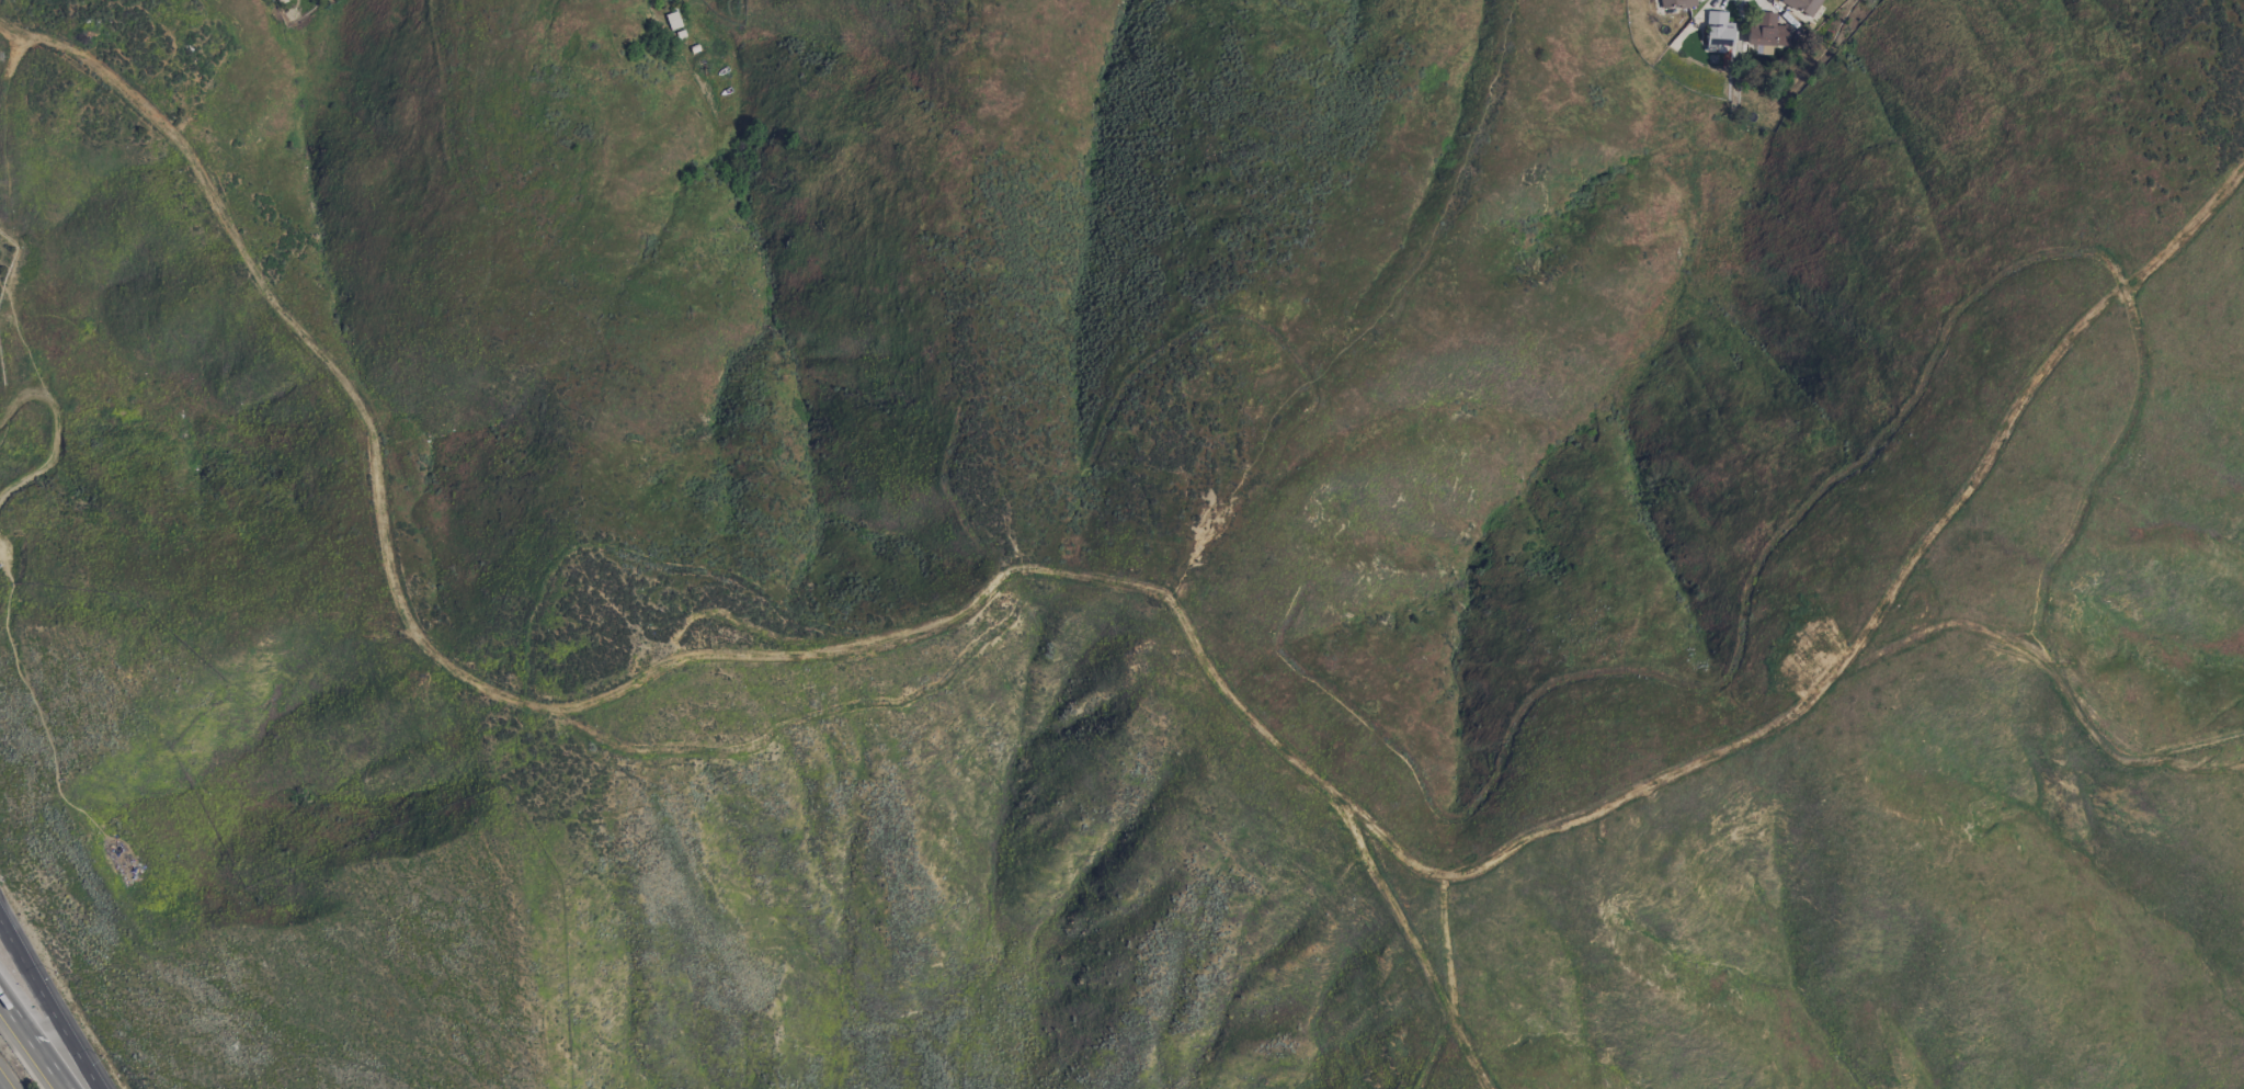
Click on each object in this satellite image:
building: (1677, 3)
building: (1803, 5)
building: (673, 20)
building: (1718, 29)
building: (1766, 30)
road: (1129, 588)
road: (49, 1003)
road: (33, 1044)
road: (7, 1079)

